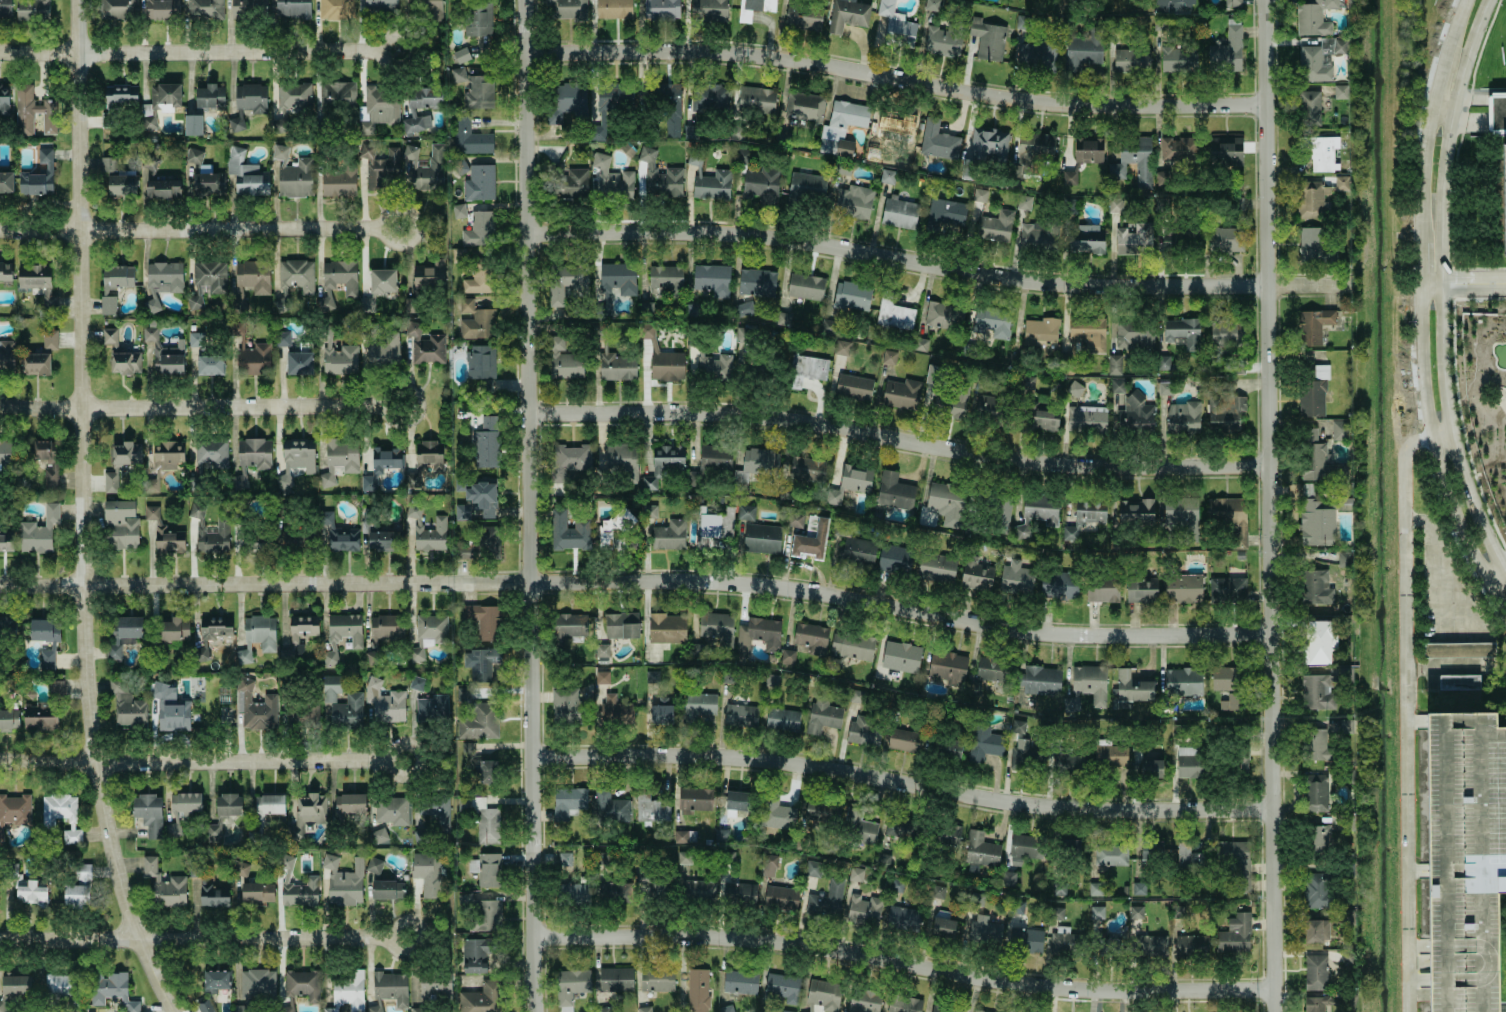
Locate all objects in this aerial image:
building: (1233, 2)
building: (380, 5)
building: (932, 5)
building: (1175, 5)
building: (5, 8)
building: (249, 8)
building: (293, 8)
building: (429, 8)
building: (754, 8)
building: (117, 9)
building: (162, 9)
building: (204, 9)
building: (336, 9)
building: (569, 9)
building: (613, 9)
building: (661, 9)
building: (32, 10)
building: (709, 10)
building: (847, 15)
building: (803, 17)
building: (1314, 18)
building: (479, 21)
building: (1024, 22)
building: (896, 26)
building: (987, 39)
building: (942, 42)
building: (1228, 48)
road: (412, 51)
building: (1085, 52)
road: (186, 53)
building: (461, 55)
building: (1036, 56)
building: (1318, 59)
building: (1178, 60)
building: (1131, 61)
road: (896, 78)
building: (474, 89)
building: (1340, 91)
building: (120, 94)
building: (337, 94)
building: (209, 95)
building: (293, 95)
building: (615, 96)
building: (712, 96)
building: (251, 97)
building: (756, 98)
building: (4, 100)
road: (1473, 100)
building: (569, 101)
road: (1497, 101)
road: (1444, 104)
building: (1498, 104)
building: (669, 105)
building: (804, 106)
building: (1309, 107)
road: (1457, 107)
building: (377, 108)
building: (421, 108)
building: (33, 112)
building: (105, 119)
road: (1471, 119)
road: (1497, 119)
building: (240, 124)
building: (193, 125)
building: (842, 127)
building: (689, 131)
building: (597, 132)
building: (735, 133)
road: (1448, 135)
building: (470, 138)
building: (938, 140)
building: (988, 146)
building: (1035, 147)
building: (1179, 149)
building: (1225, 150)
building: (1088, 151)
building: (1321, 152)
building: (194, 155)
building: (1133, 161)
building: (107, 164)
building: (379, 167)
building: (426, 167)
building: (841, 167)
building: (246, 174)
building: (293, 174)
building: (39, 175)
building: (659, 176)
building: (887, 176)
building: (1068, 177)
building: (611, 178)
building: (338, 181)
building: (6, 182)
building: (208, 182)
building: (572, 182)
building: (479, 183)
building: (711, 183)
building: (1341, 183)
building: (121, 184)
building: (762, 184)
building: (807, 185)
building: (161, 189)
building: (979, 195)
building: (1502, 198)
parking garage: (1502, 198)
building: (1312, 199)
building: (853, 201)
building: (1024, 202)
building: (1115, 205)
building: (458, 211)
building: (899, 213)
building: (946, 213)
building: (995, 226)
road: (414, 228)
building: (479, 229)
road: (188, 230)
building: (1034, 235)
building: (1087, 238)
building: (1134, 239)
building: (1314, 246)
road: (935, 266)
building: (5, 271)
building: (296, 275)
building: (429, 275)
building: (34, 276)
building: (117, 276)
building: (253, 276)
building: (340, 276)
road: (1428, 277)
road: (1461, 277)
building: (618, 278)
building: (667, 279)
building: (712, 279)
building: (382, 280)
building: (162, 281)
building: (206, 281)
building: (566, 282)
building: (757, 282)
building: (477, 283)
road: (1494, 285)
building: (805, 286)
road: (1450, 293)
building: (852, 296)
building: (46, 298)
building: (325, 303)
building: (367, 304)
building: (108, 305)
building: (410, 305)
building: (645, 308)
building: (742, 308)
building: (692, 309)
building: (894, 314)
building: (941, 314)
road: (1418, 315)
building: (782, 318)
building: (475, 321)
building: (992, 321)
building: (1313, 325)
building: (236, 329)
building: (1040, 332)
building: (1183, 332)
building: (1087, 333)
building: (1226, 333)
building: (149, 334)
building: (1132, 335)
building: (110, 338)
building: (49, 339)
building: (195, 339)
building: (281, 339)
building: (425, 344)
building: (919, 344)
building: (841, 347)
building: (382, 350)
building: (7, 356)
building: (888, 357)
building: (169, 359)
building: (253, 359)
building: (340, 360)
building: (563, 360)
building: (125, 362)
building: (482, 362)
building: (299, 363)
building: (35, 364)
building: (1114, 364)
building: (210, 365)
building: (616, 365)
building: (715, 366)
building: (805, 370)
building: (935, 380)
building: (1117, 385)
building: (853, 387)
building: (1164, 388)
building: (901, 393)
building: (1313, 393)
building: (955, 404)
road: (415, 405)
building: (986, 406)
road: (189, 408)
building: (1135, 412)
building: (1225, 413)
building: (1042, 418)
building: (1182, 418)
building: (1086, 419)
building: (1339, 430)
road: (1448, 430)
building: (1311, 434)
road: (899, 439)
building: (486, 444)
building: (7, 452)
building: (211, 453)
building: (253, 453)
building: (167, 454)
building: (429, 456)
building: (571, 457)
building: (668, 457)
building: (715, 457)
building: (339, 459)
building: (383, 459)
building: (295, 460)
building: (622, 460)
building: (45, 461)
building: (121, 463)
building: (757, 463)
building: (1321, 464)
building: (806, 469)
building: (240, 479)
building: (194, 483)
building: (368, 483)
building: (648, 483)
building: (849, 483)
building: (151, 485)
building: (894, 491)
building: (482, 496)
building: (945, 502)
road: (530, 506)
road: (1270, 506)
building: (1041, 509)
building: (196, 511)
building: (649, 511)
building: (1090, 511)
building: (1135, 511)
building: (151, 512)
building: (462, 512)
building: (746, 512)
road: (83, 513)
building: (1180, 513)
building: (1230, 517)
road: (1421, 517)
building: (120, 524)
building: (716, 524)
building: (1317, 525)
building: (615, 527)
building: (841, 528)
building: (427, 530)
building: (39, 531)
building: (568, 532)
building: (1069, 532)
building: (669, 535)
building: (338, 536)
building: (212, 537)
building: (293, 537)
building: (761, 538)
building: (811, 538)
building: (383, 541)
building: (6, 542)
building: (169, 542)
building: (252, 542)
building: (858, 551)
road: (1455, 554)
building: (894, 559)
building: (1344, 559)
building: (936, 567)
road: (1504, 570)
building: (976, 576)
road: (1494, 577)
building: (1016, 580)
road: (637, 581)
building: (1060, 585)
building: (1318, 587)
building: (1183, 588)
building: (1226, 589)
building: (1102, 590)
building: (1141, 591)
building: (483, 620)
building: (621, 625)
building: (215, 626)
building: (386, 627)
building: (568, 627)
building: (7, 628)
building: (345, 628)
building: (666, 628)
building: (717, 628)
building: (174, 630)
building: (431, 630)
building: (260, 632)
building: (125, 634)
building: (299, 635)
building: (758, 635)
building: (811, 637)
building: (46, 640)
building: (1319, 641)
building: (852, 645)
building: (695, 648)
building: (1459, 649)
building: (601, 651)
building: (416, 654)
building: (243, 656)
building: (787, 656)
building: (901, 656)
building: (330, 658)
building: (480, 662)
building: (947, 666)
building: (992, 670)
building: (651, 676)
building: (602, 677)
building: (1224, 678)
building: (771, 680)
building: (1040, 680)
building: (1183, 681)
building: (1458, 682)
building: (416, 683)
building: (1086, 687)
building: (1133, 688)
building: (1321, 688)
building: (56, 691)
building: (462, 694)
building: (856, 696)
building: (353, 697)
building: (1231, 701)
building: (385, 702)
building: (126, 704)
building: (698, 705)
building: (570, 706)
building: (255, 707)
road: (1406, 708)
building: (170, 709)
building: (432, 709)
building: (615, 711)
building: (661, 714)
building: (741, 715)
building: (822, 715)
building: (302, 716)
building: (40, 717)
building: (8, 719)
building: (782, 719)
building: (479, 722)
building: (1018, 726)
building: (864, 730)
building: (904, 740)
building: (983, 743)
building: (1318, 745)
building: (467, 748)
building: (1187, 750)
building: (1110, 755)
building: (1028, 756)
road: (203, 760)
building: (1069, 761)
building: (1190, 766)
building: (1151, 768)
building: (488, 772)
road: (903, 782)
building: (1315, 792)
building: (695, 799)
building: (568, 802)
building: (736, 802)
building: (185, 804)
building: (228, 804)
building: (349, 804)
building: (268, 806)
building: (609, 806)
building: (15, 809)
building: (651, 809)
building: (391, 810)
building: (822, 810)
building: (436, 812)
building: (148, 813)
building: (308, 813)
building: (61, 815)
building: (777, 816)
building: (482, 819)
building: (859, 826)
building: (897, 828)
building: (172, 830)
building: (1, 832)
building: (213, 833)
building: (720, 835)
building: (379, 836)
building: (681, 836)
building: (253, 838)
building: (1319, 839)
building: (1020, 848)
building: (980, 849)
building: (1151, 851)
building: (1107, 854)
building: (728, 855)
building: (683, 857)
building: (1188, 857)
building: (1463, 857)
parking lot: (1463, 857)
building: (564, 859)
building: (882, 859)
building: (1236, 862)
building: (373, 865)
building: (768, 865)
building: (240, 869)
building: (486, 869)
building: (812, 870)
road: (1414, 870)
road: (1410, 871)
building: (427, 873)
building: (855, 874)
building: (1008, 878)
building: (343, 881)
building: (648, 882)
building: (164, 885)
building: (295, 885)
building: (79, 887)
building: (1095, 888)
building: (1138, 888)
building: (387, 889)
building: (698, 890)
building: (1317, 890)
building: (31, 891)
building: (614, 891)
building: (257, 892)
building: (574, 892)
building: (739, 893)
building: (214, 896)
building: (781, 897)
building: (977, 898)
building: (826, 900)
building: (1018, 907)
building: (864, 909)
building: (1177, 911)
building: (481, 912)
building: (1096, 912)
building: (1135, 912)
building: (1056, 913)
building: (1347, 917)
building: (903, 918)
building: (943, 927)
building: (1325, 929)
building: (984, 930)
building: (1312, 931)
road: (204, 939)
building: (1025, 940)
building: (1066, 941)
building: (1151, 945)
road: (1417, 946)
building: (475, 955)
road: (903, 962)
road: (1417, 963)
building: (1315, 972)
building: (615, 979)
building: (656, 979)
building: (216, 980)
road: (1417, 980)
building: (740, 982)
building: (257, 983)
building: (302, 984)
building: (571, 986)
building: (390, 987)
building: (782, 987)
building: (62, 988)
building: (435, 988)
building: (13, 989)
building: (110, 990)
building: (698, 990)
building: (348, 992)
road: (1417, 994)
building: (823, 996)
building: (477, 998)
building: (863, 1001)
building: (903, 1004)
building: (204, 1005)
building: (1314, 1005)
building: (376, 1006)
building: (240, 1008)
building: (945, 1008)
building: (286, 1009)
building: (644, 1009)
building: (785, 1011)
building: (978, 1011)

